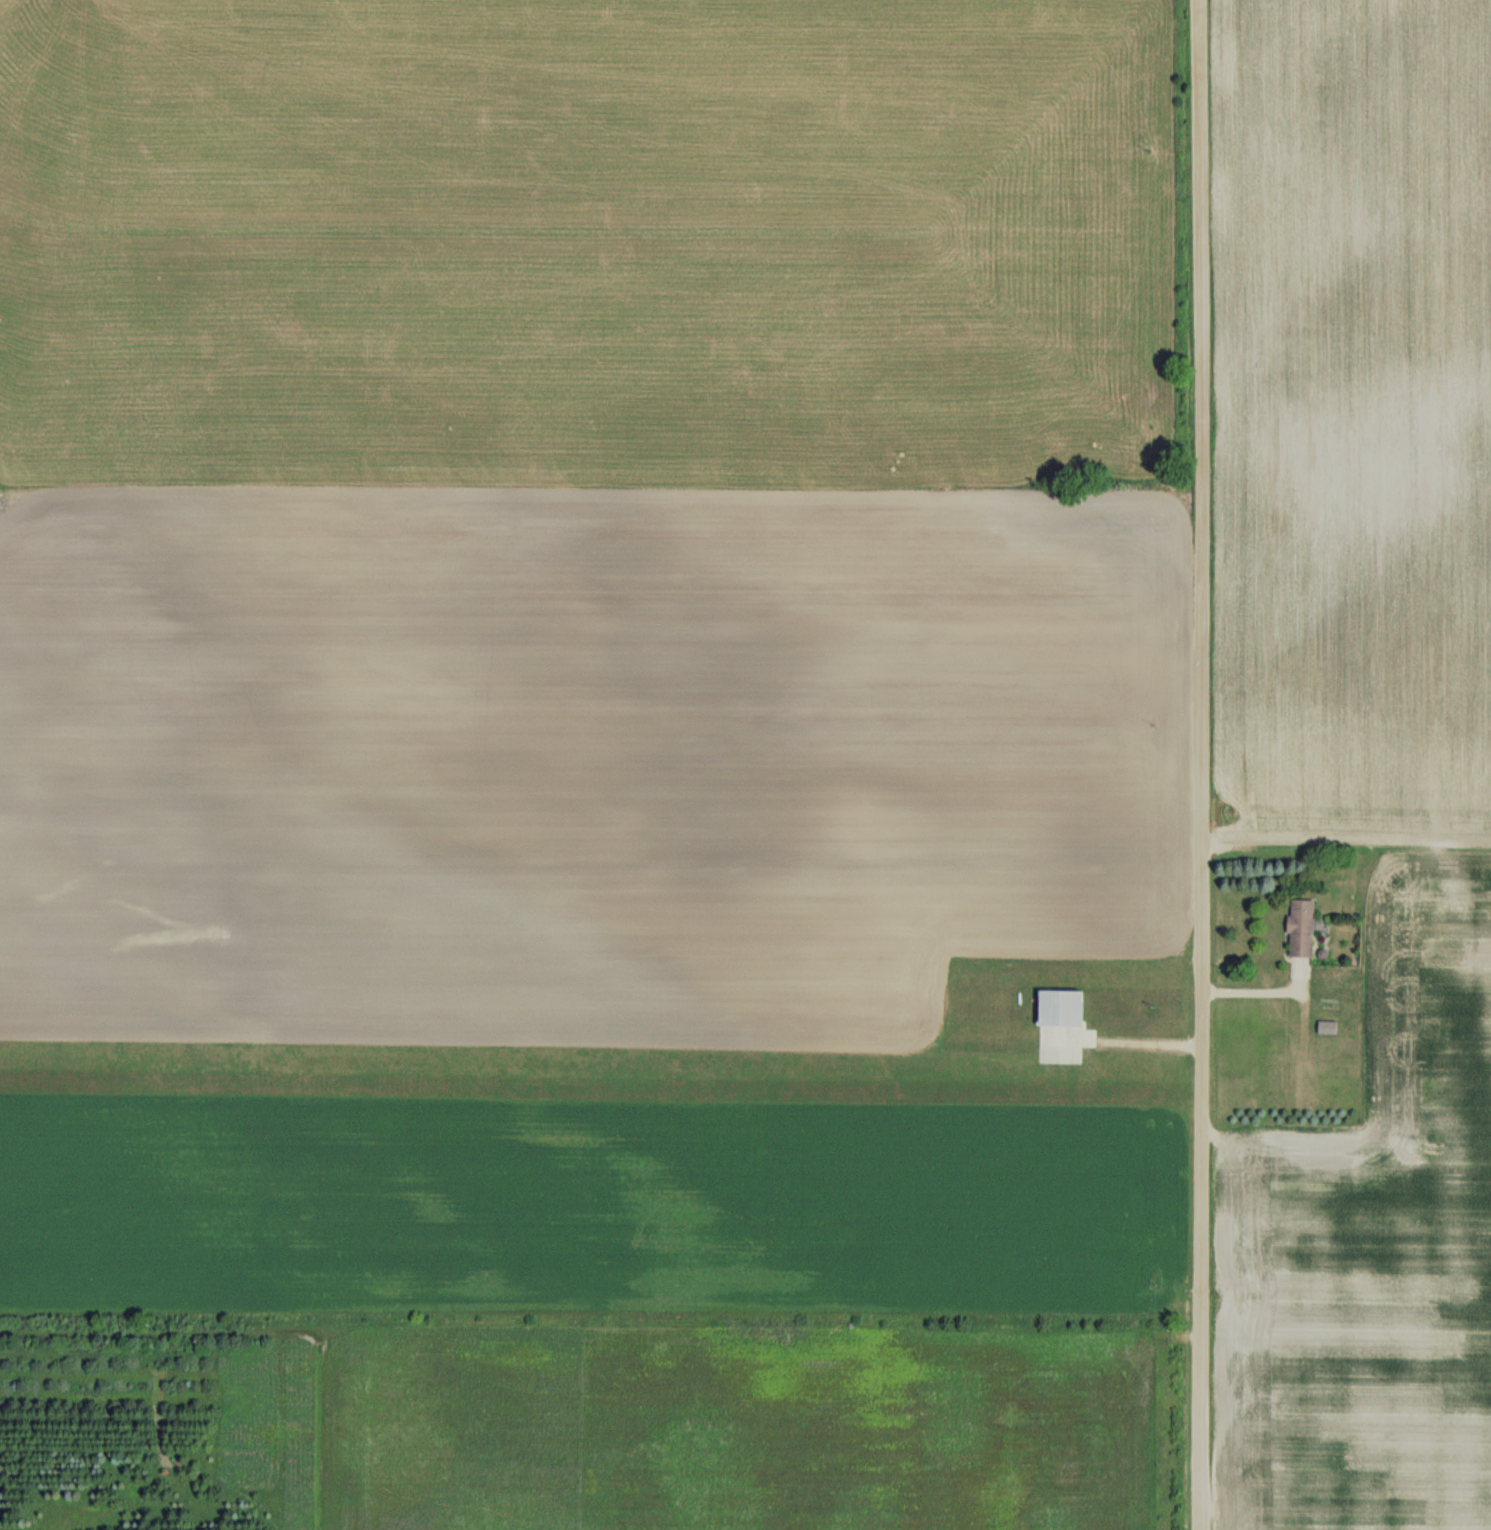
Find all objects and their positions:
road: (1206, 764)
building: (1303, 928)
road: (1265, 990)
building: (1062, 1026)
building: (1328, 1026)
road: (1148, 1039)

